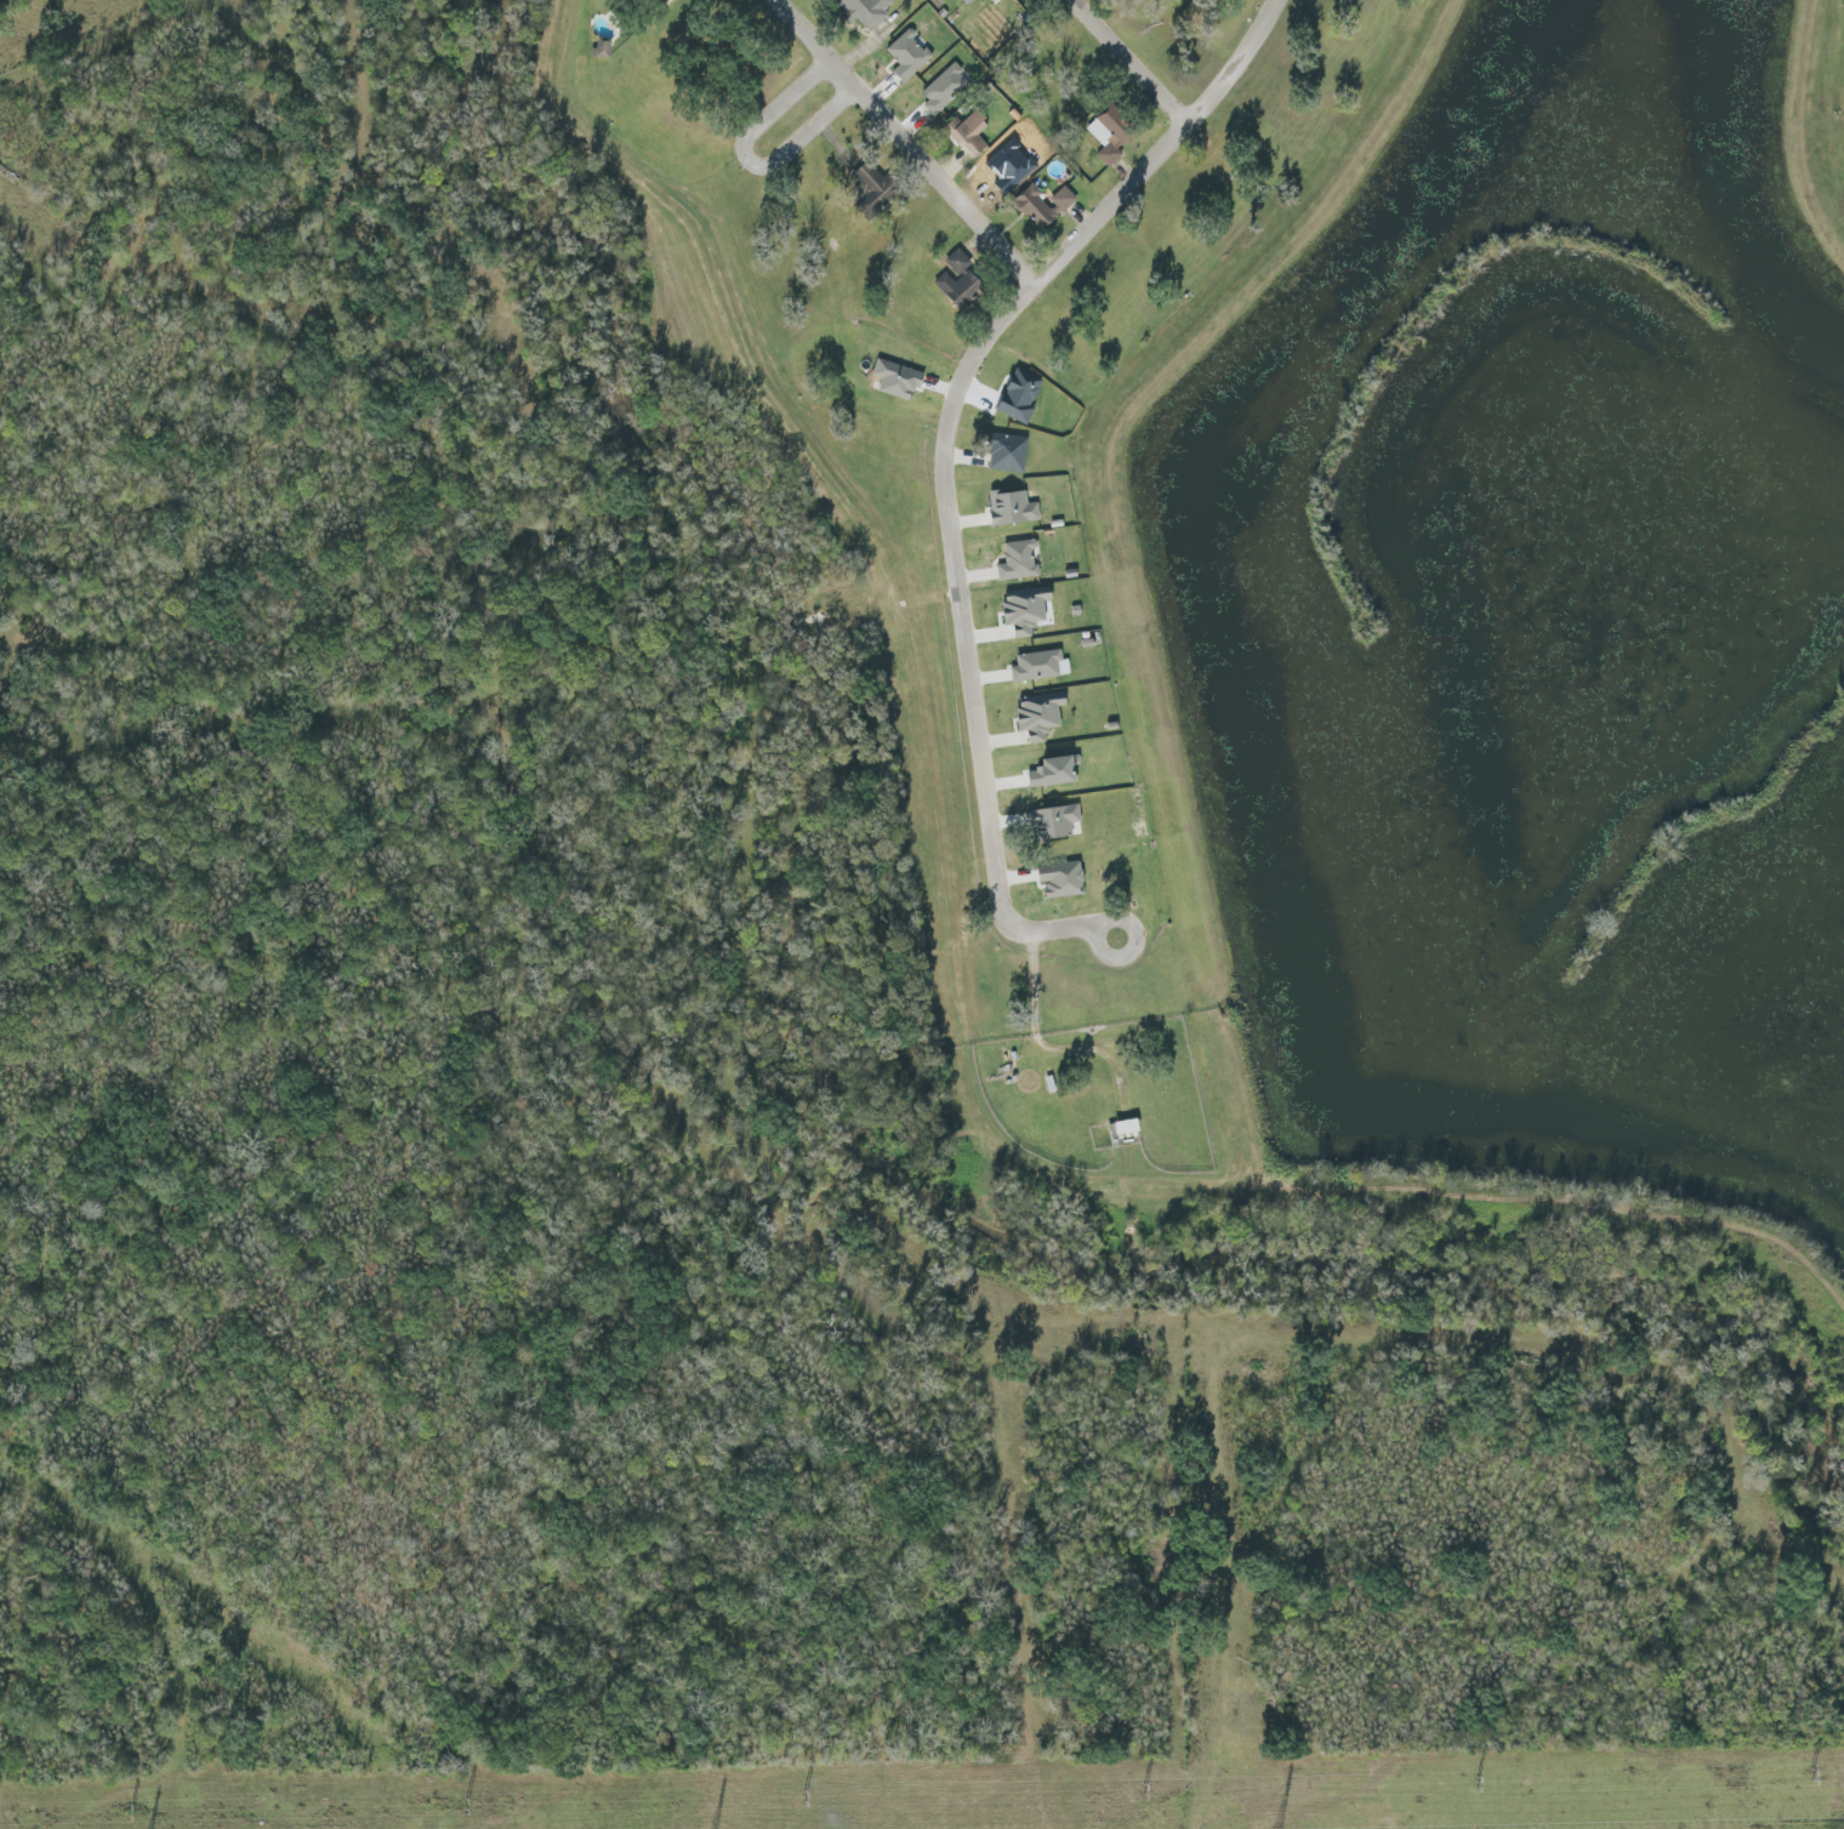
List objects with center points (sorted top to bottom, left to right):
building: (867, 12)
building: (603, 50)
building: (909, 56)
road: (1132, 65)
building: (945, 90)
road: (806, 98)
building: (973, 132)
building: (1115, 135)
road: (911, 143)
building: (881, 192)
building: (1064, 200)
building: (1038, 209)
building: (958, 262)
building: (962, 290)
building: (899, 381)
building: (1011, 454)
road: (949, 471)
building: (1014, 509)
building: (1019, 562)
building: (1028, 609)
building: (1038, 667)
building: (1041, 714)
building: (1057, 821)
building: (1064, 878)
river: (865, 1035)
road: (1066, 1044)
building: (1128, 1127)
power tower: (1810, 1774)
power tower: (1472, 1782)
power tower: (1142, 1788)
power tower: (802, 1795)
power tower: (465, 1802)
power tower: (127, 1811)

